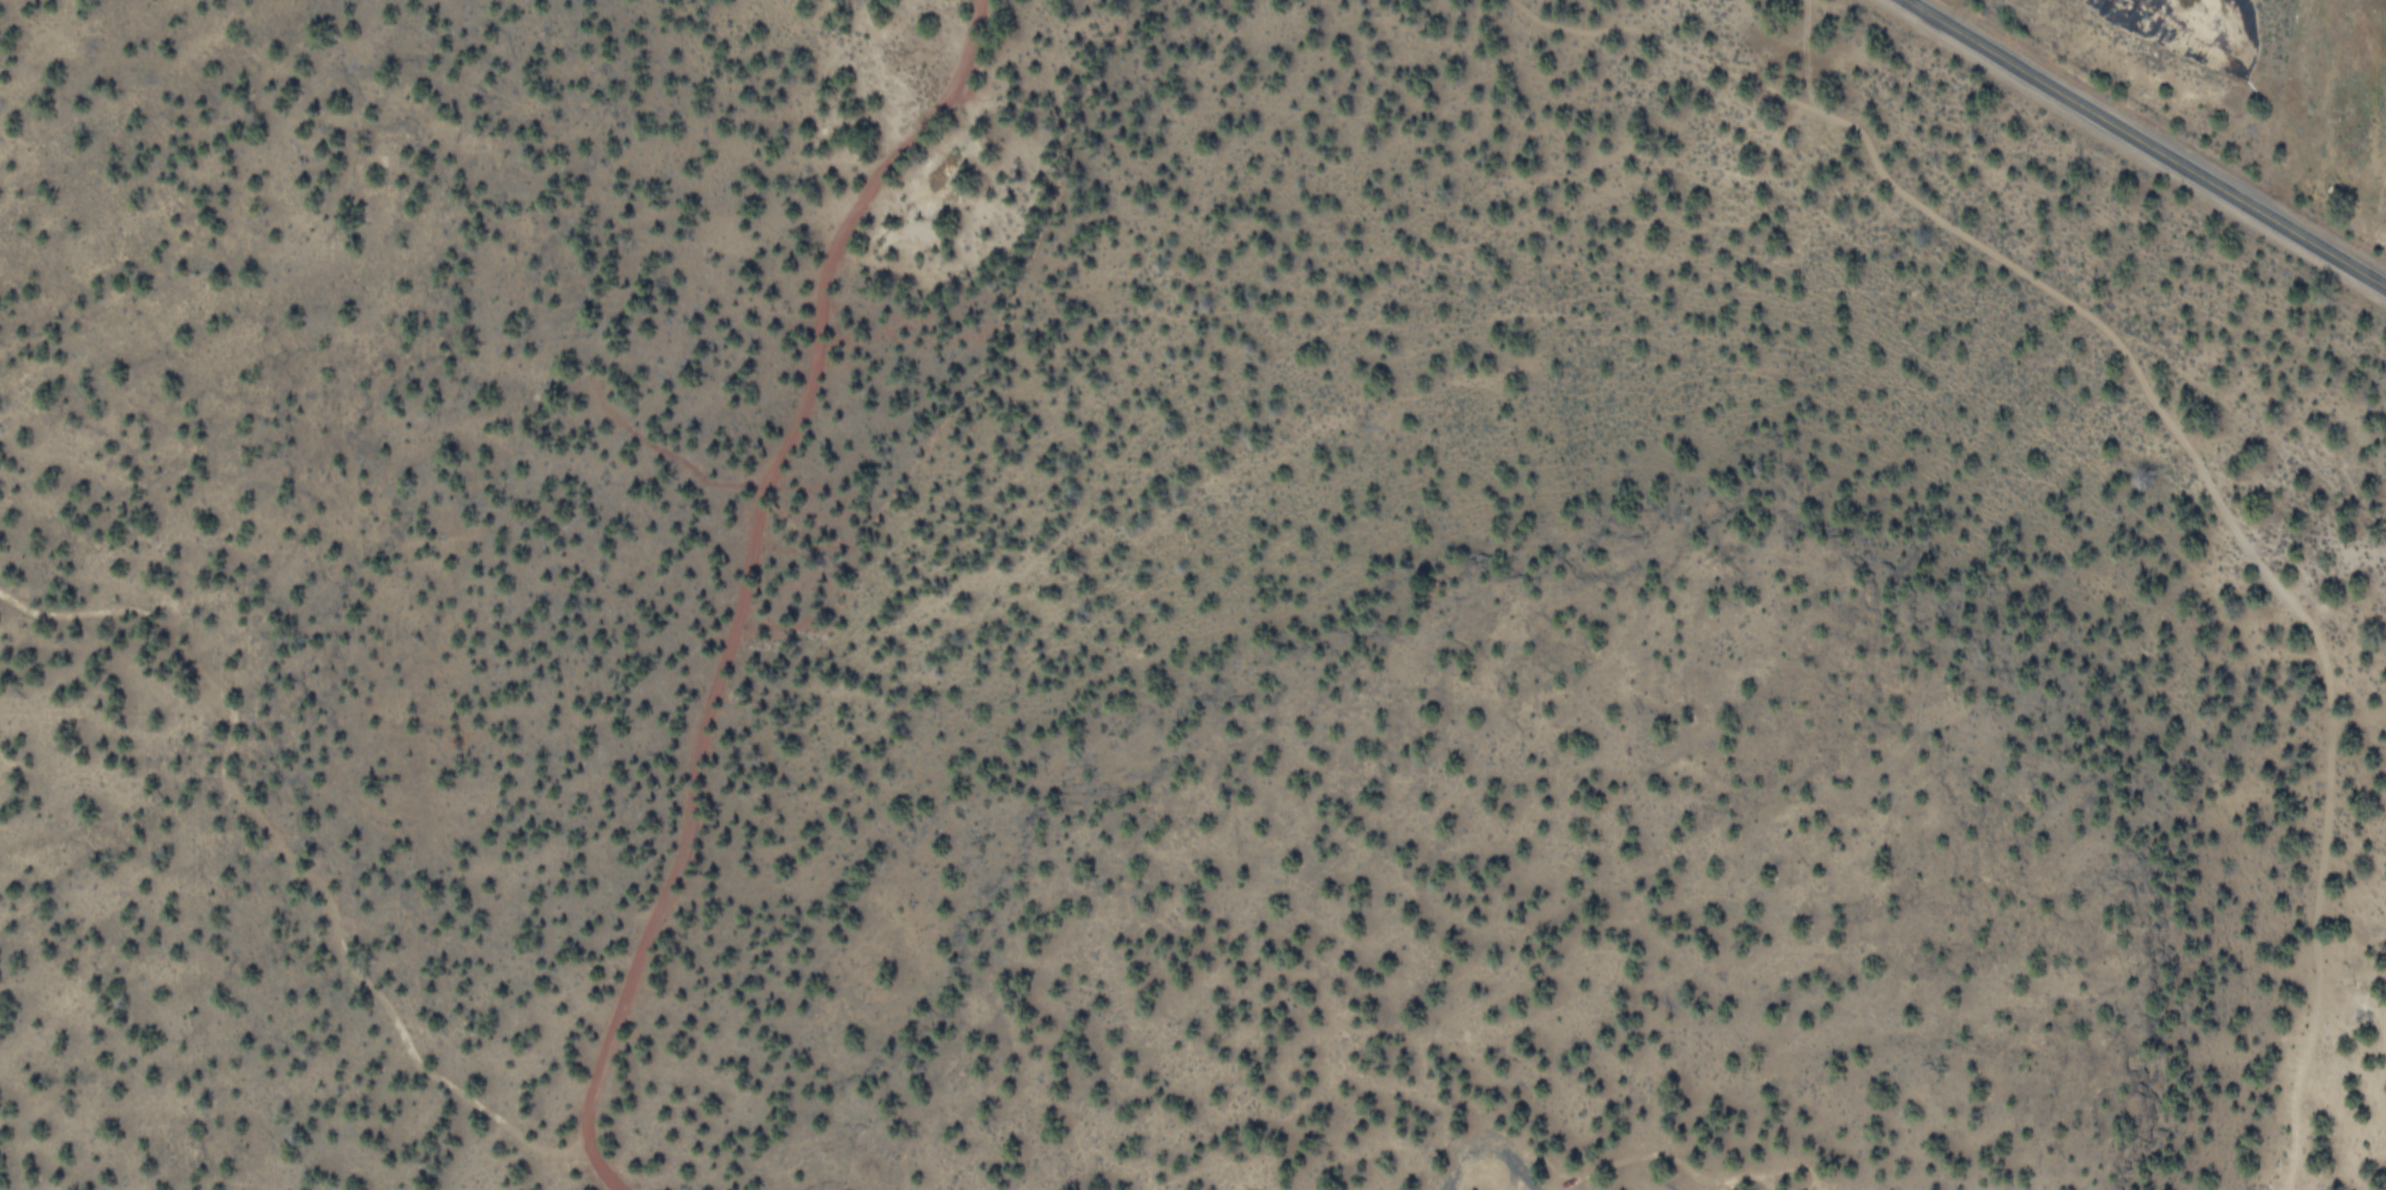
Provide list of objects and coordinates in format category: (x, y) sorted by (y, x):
crop: (2282, 52)
road: (2144, 144)

